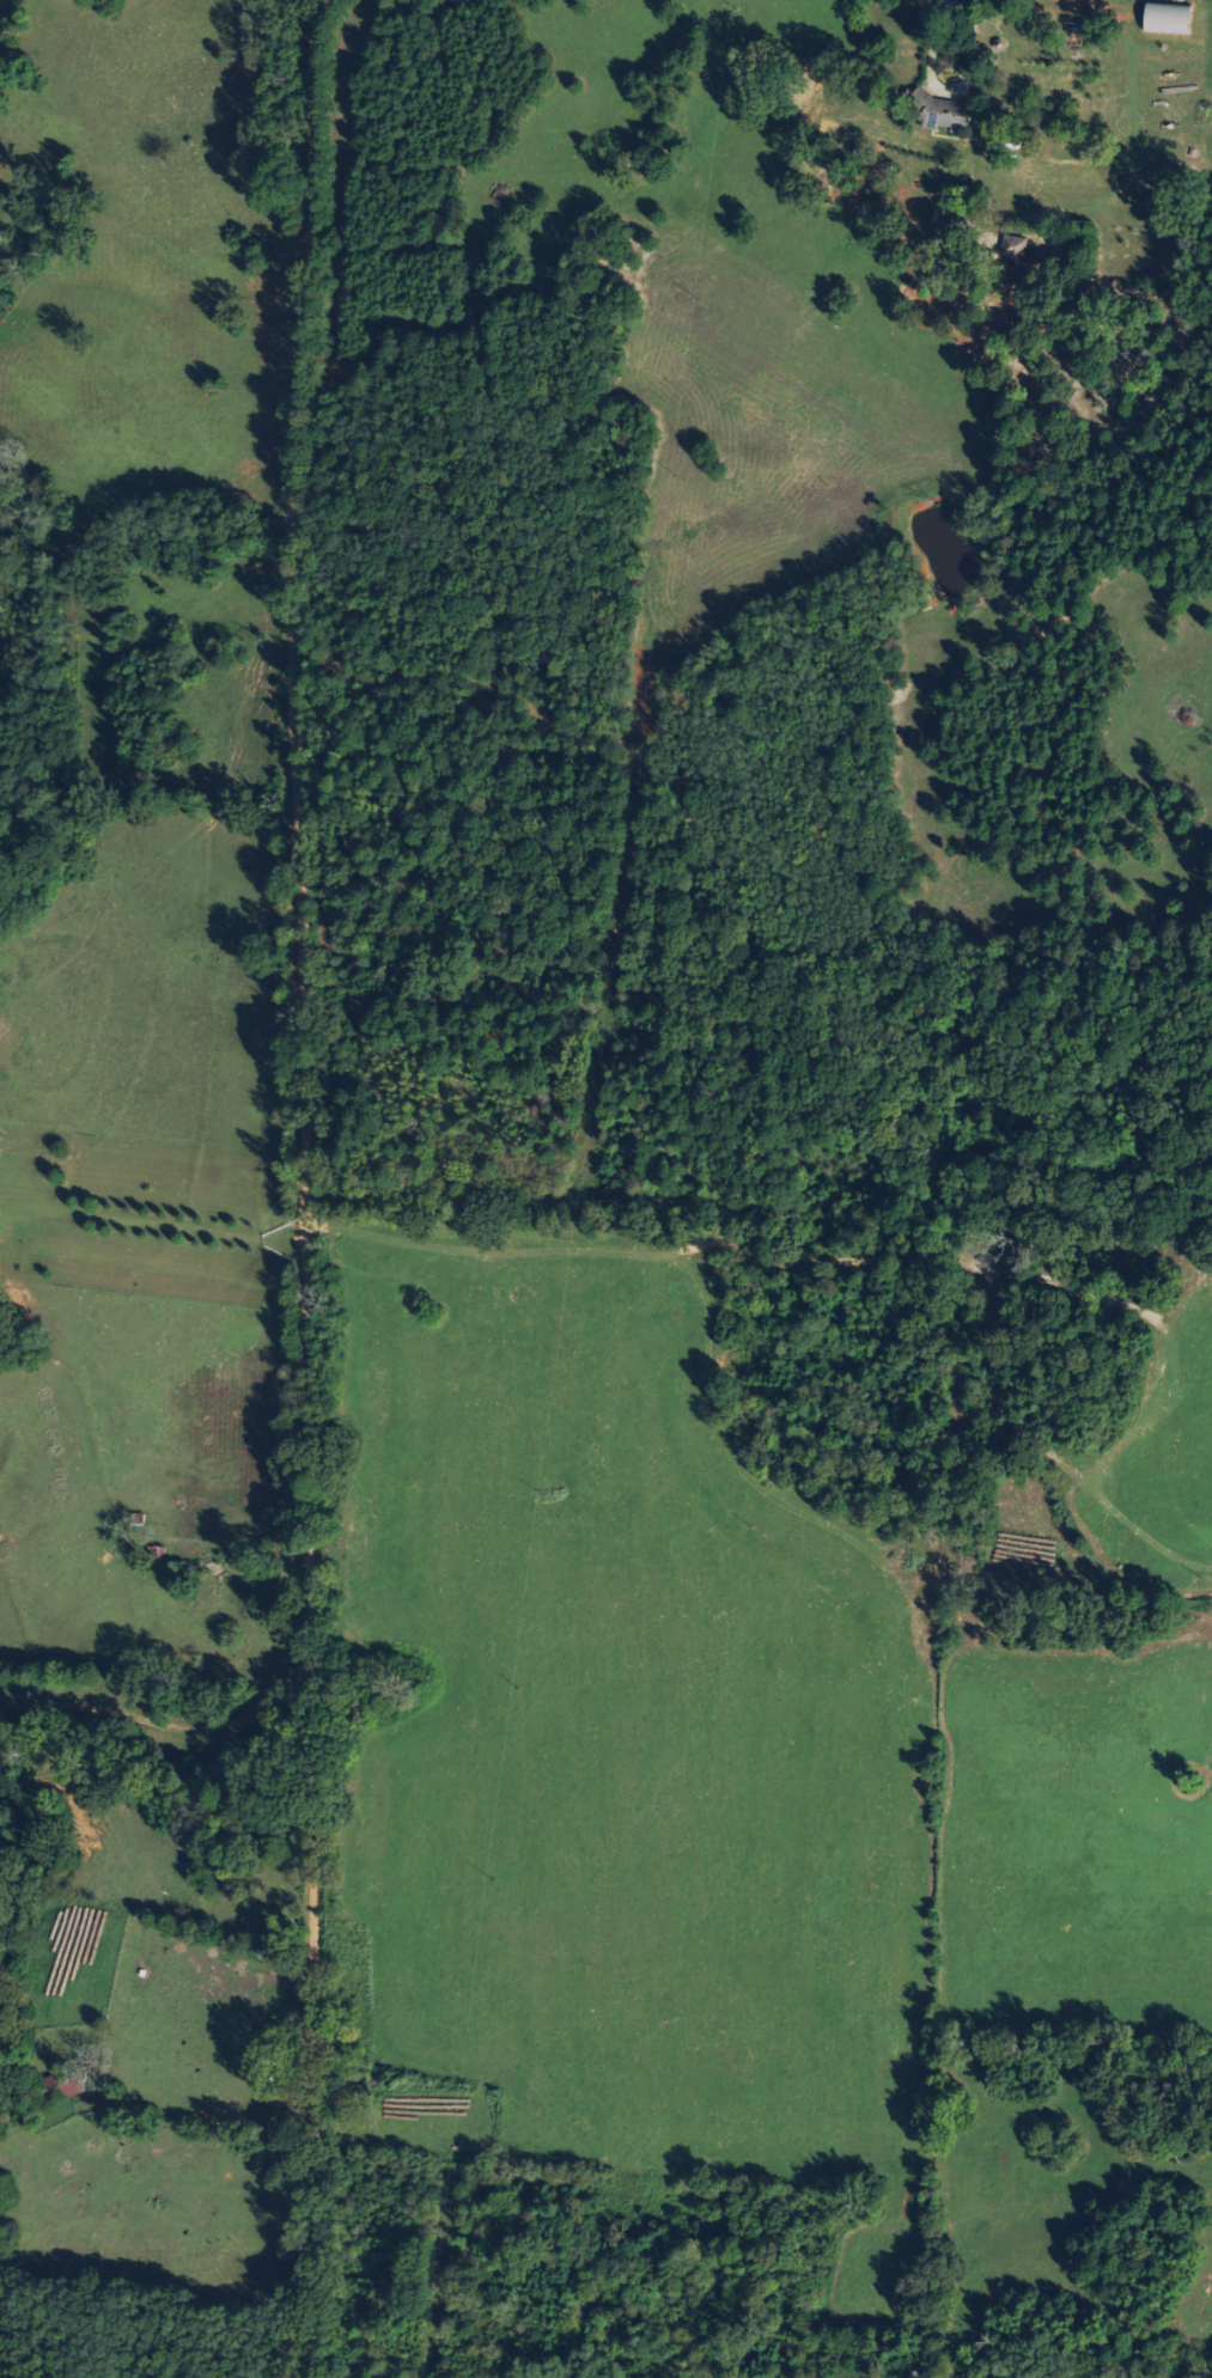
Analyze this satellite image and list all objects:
road: (337, 10)
building: (1169, 18)
building: (1023, 260)
road: (291, 1182)
road: (154, 1696)

